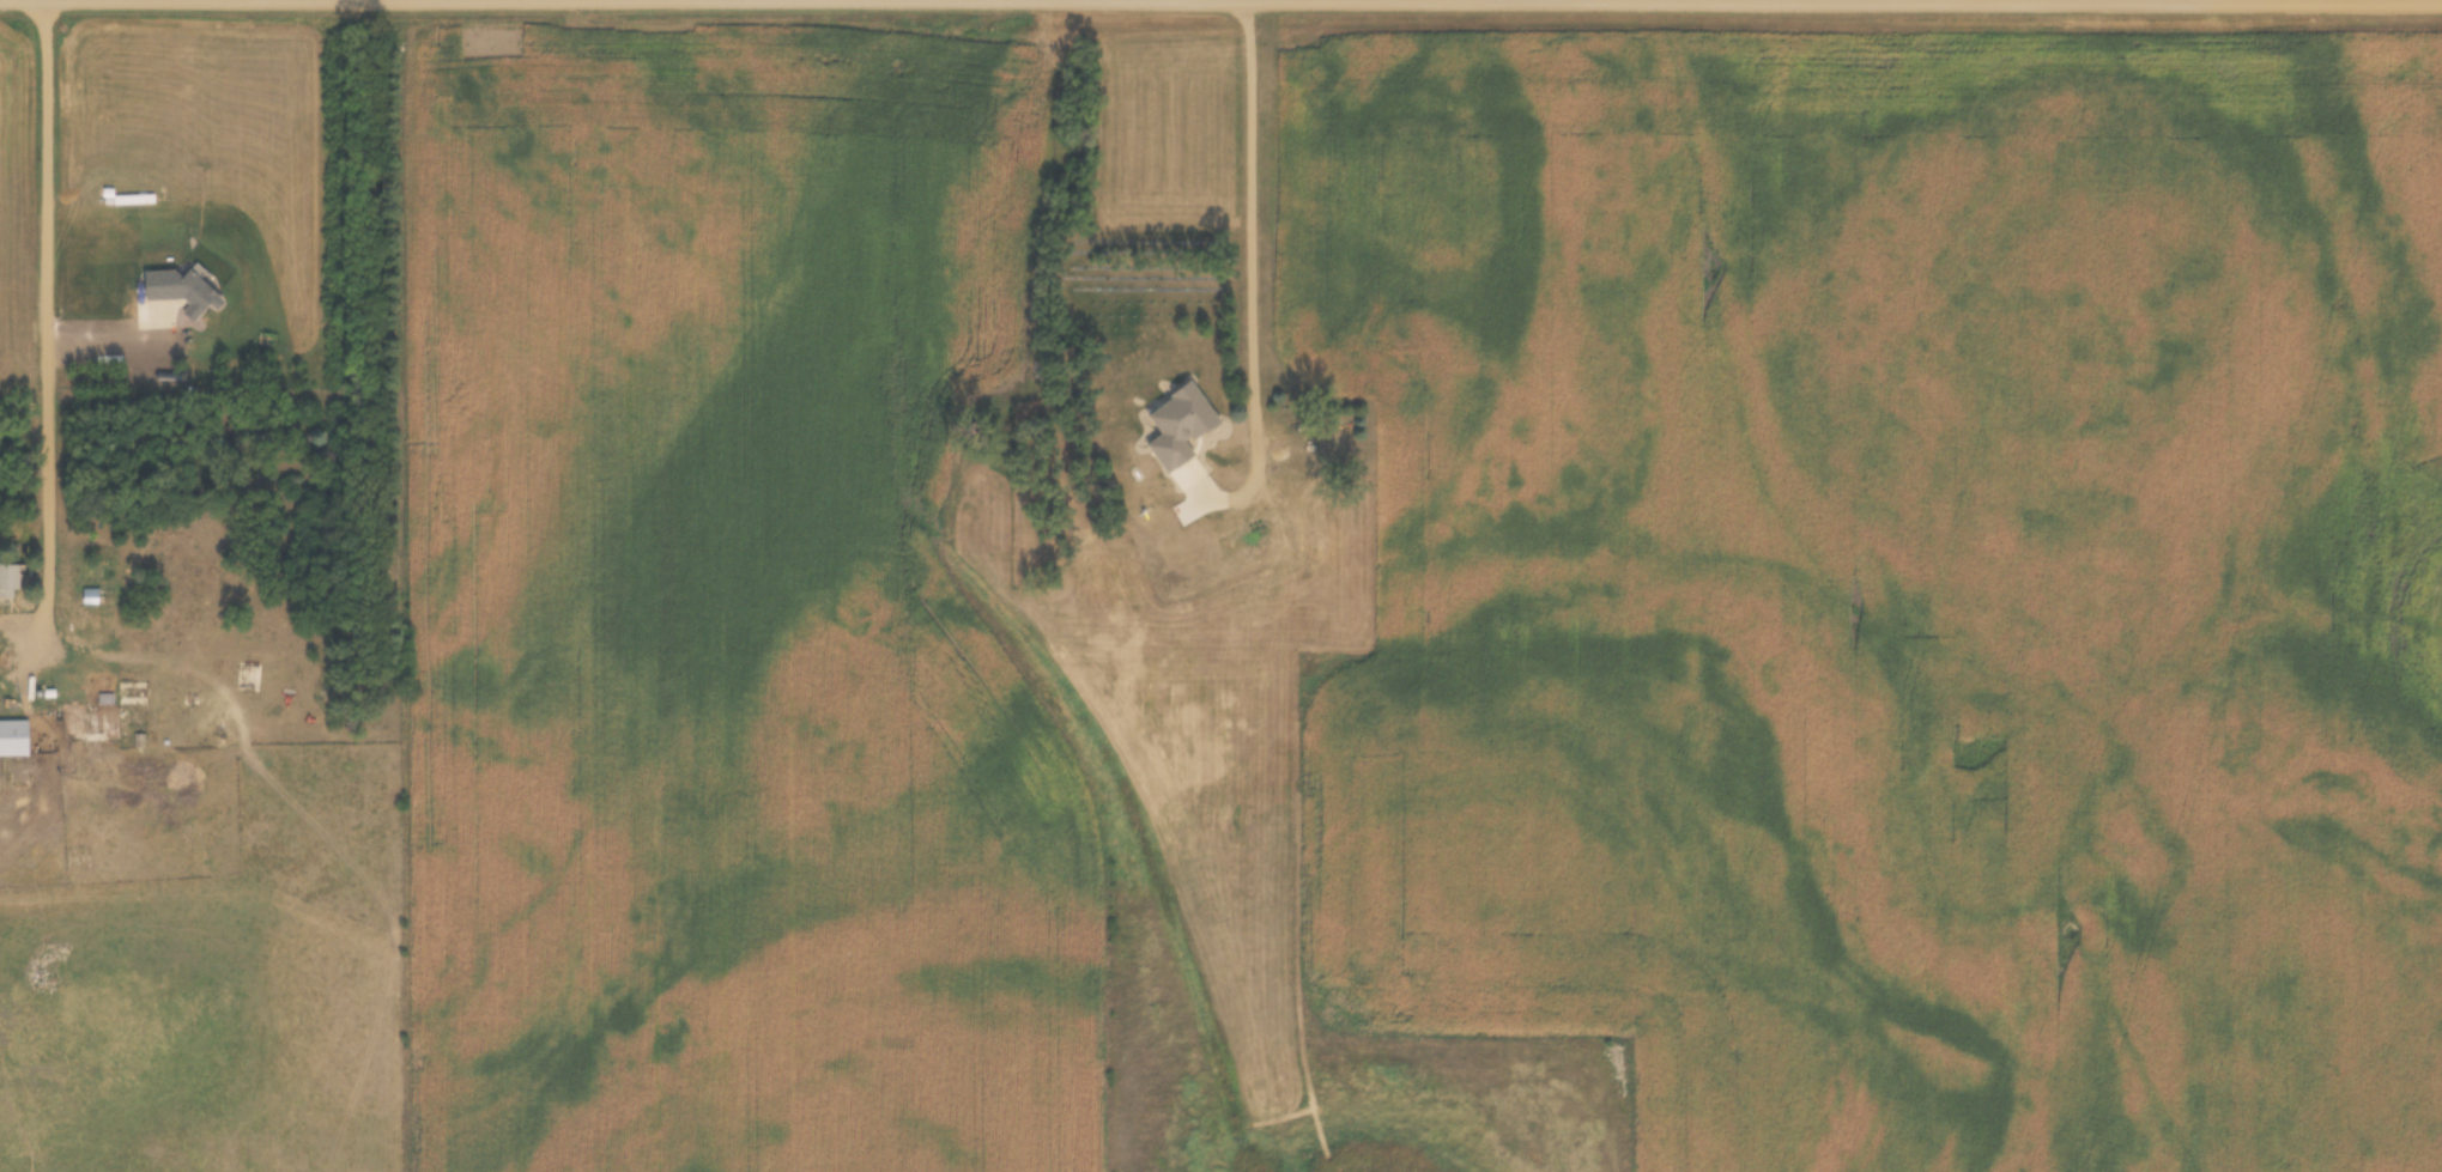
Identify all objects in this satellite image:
road: (1843, 1)
road: (1253, 277)
road: (50, 326)
building: (1194, 403)
building: (1334, 449)
building: (1309, 545)
building: (11, 578)
building: (97, 596)
building: (249, 678)
building: (134, 694)
building: (91, 719)
building: (14, 739)

